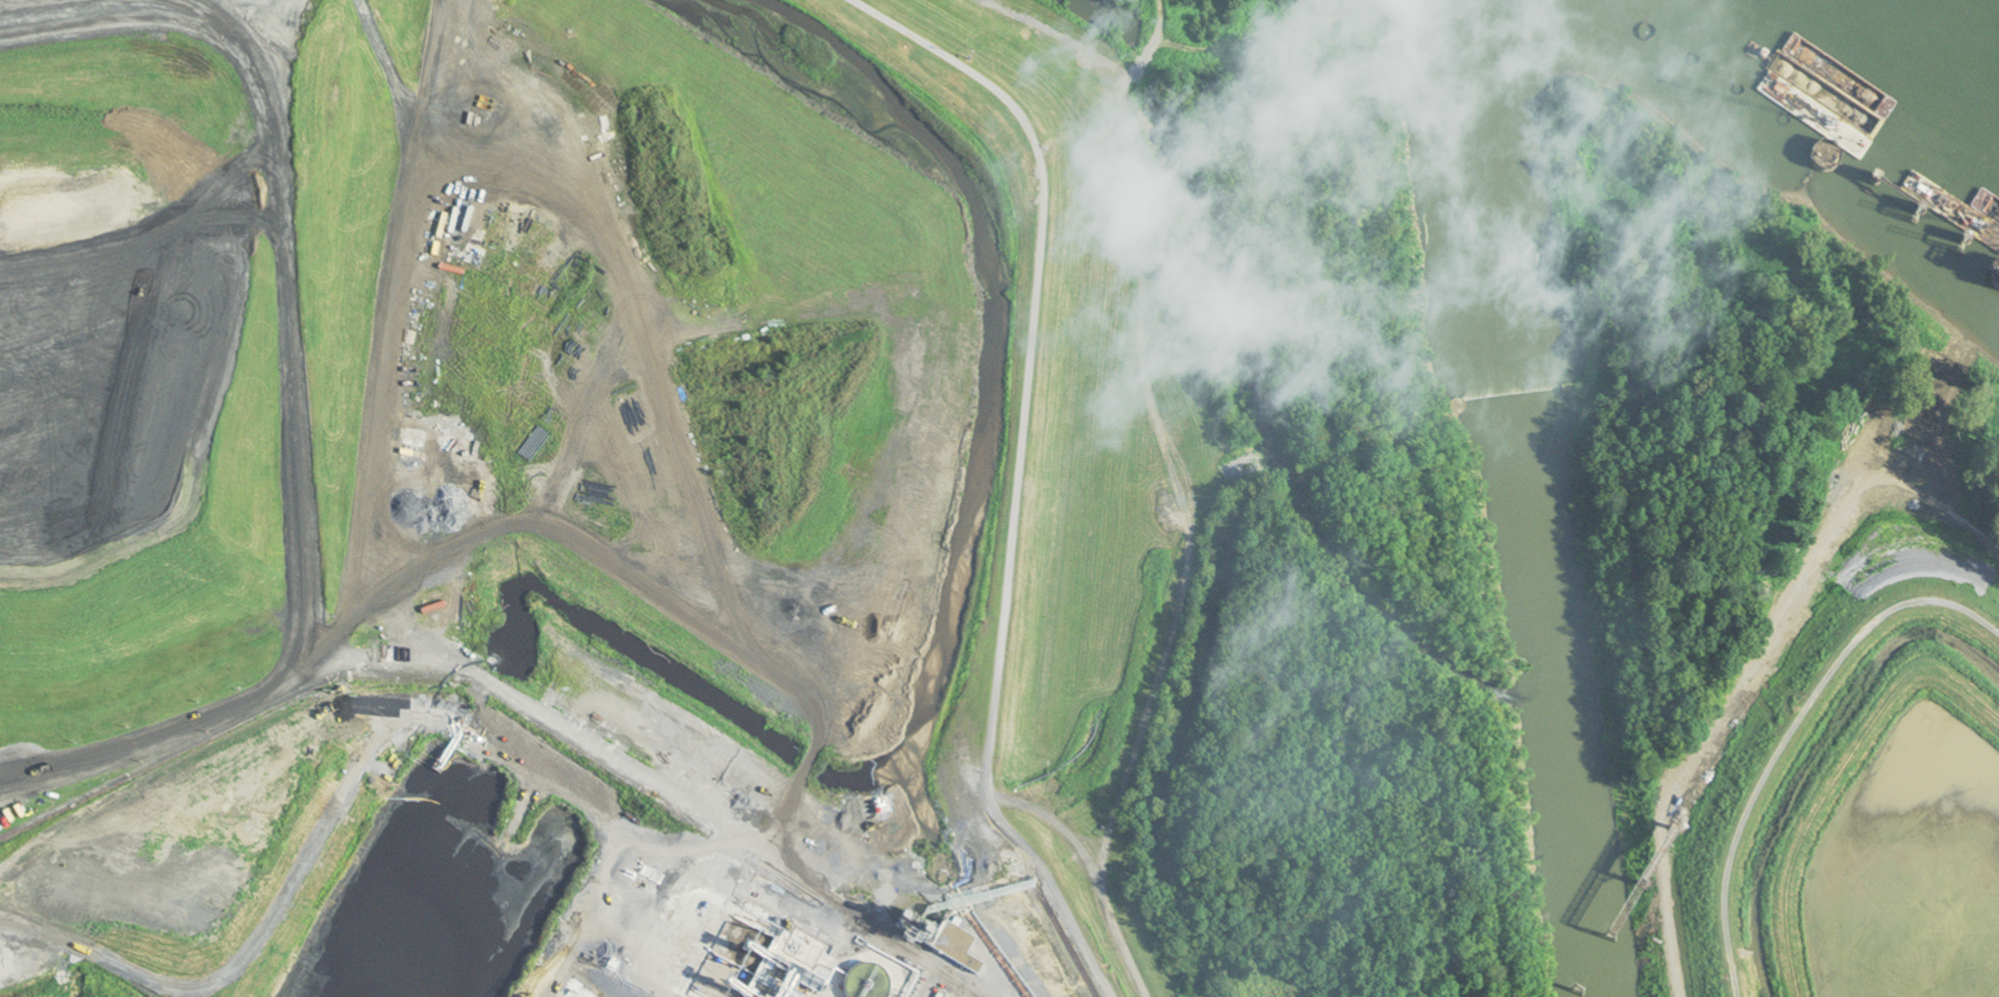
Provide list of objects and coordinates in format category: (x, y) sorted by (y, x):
building: (1828, 160)
road: (1018, 467)
building: (1191, 487)
building: (1016, 890)
building: (954, 948)

